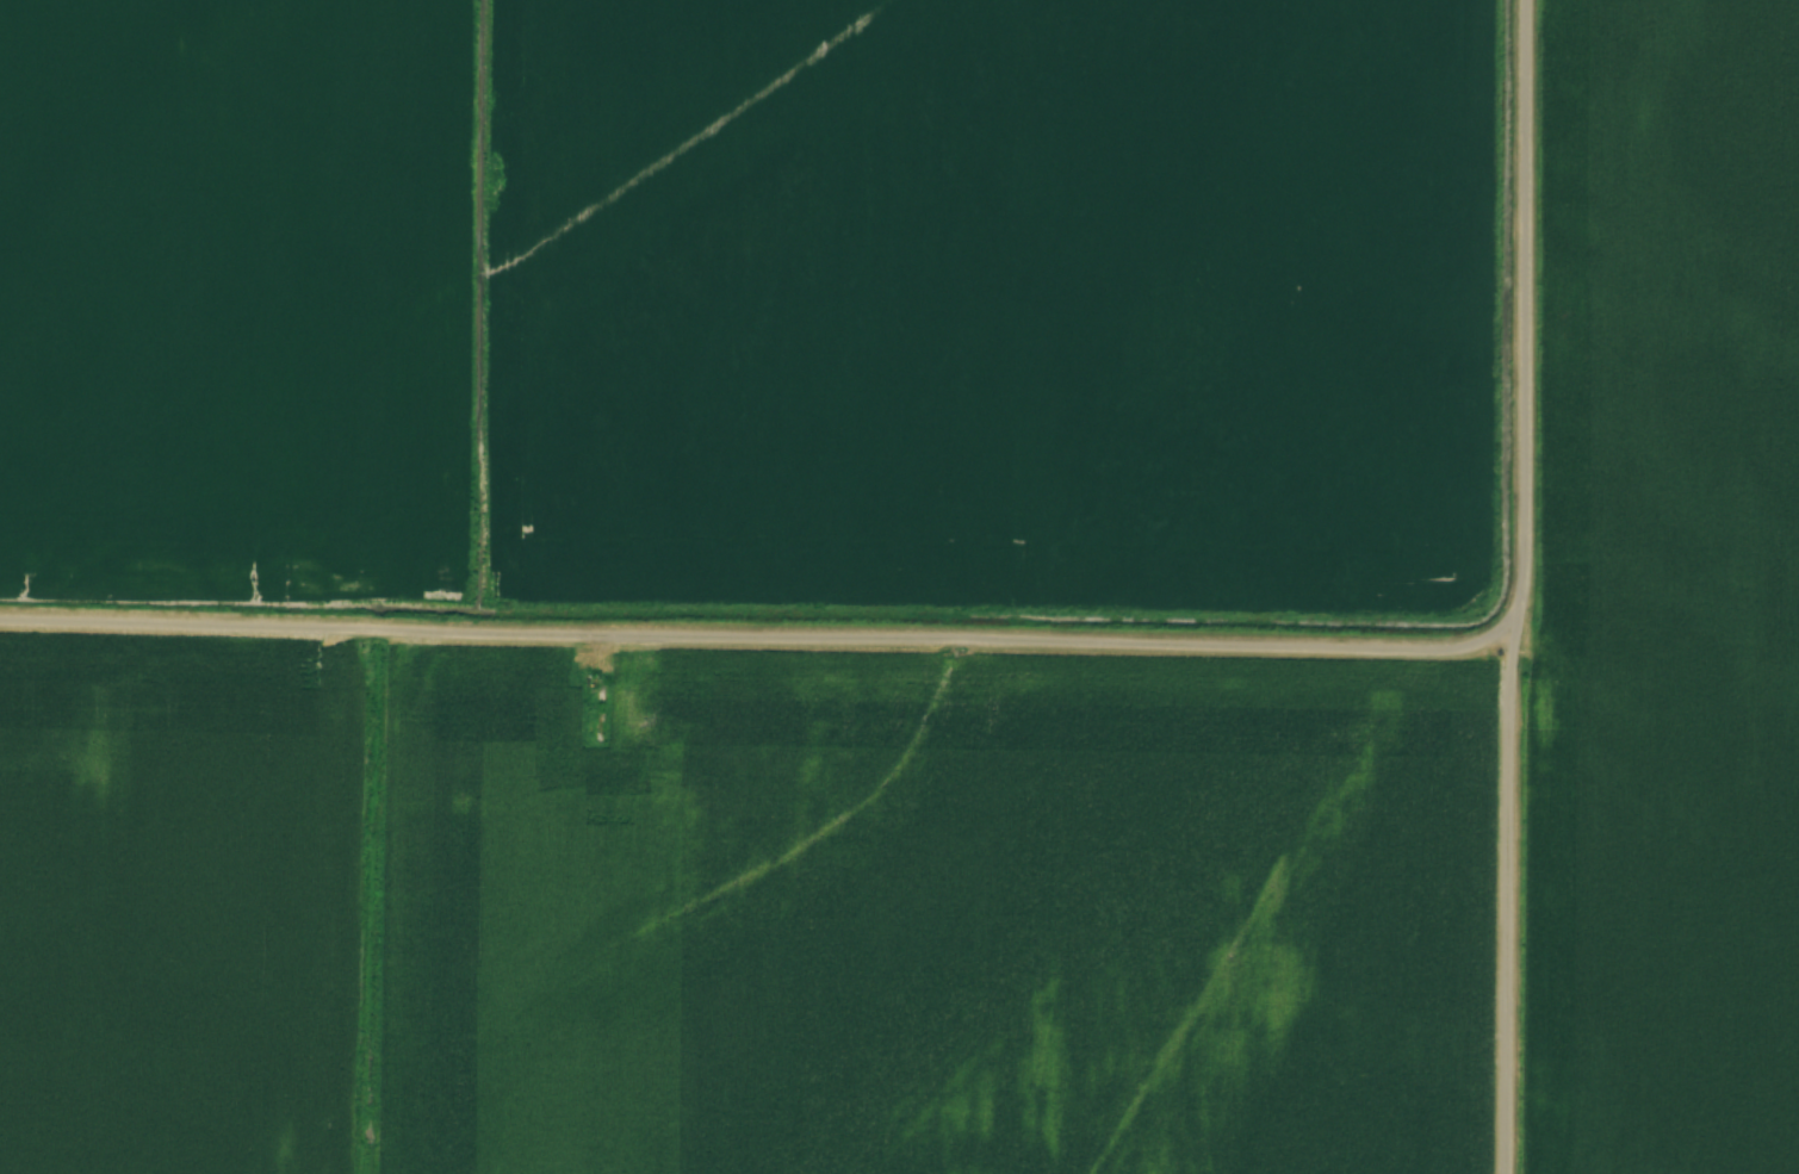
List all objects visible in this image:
road: (1512, 586)
road: (755, 598)

